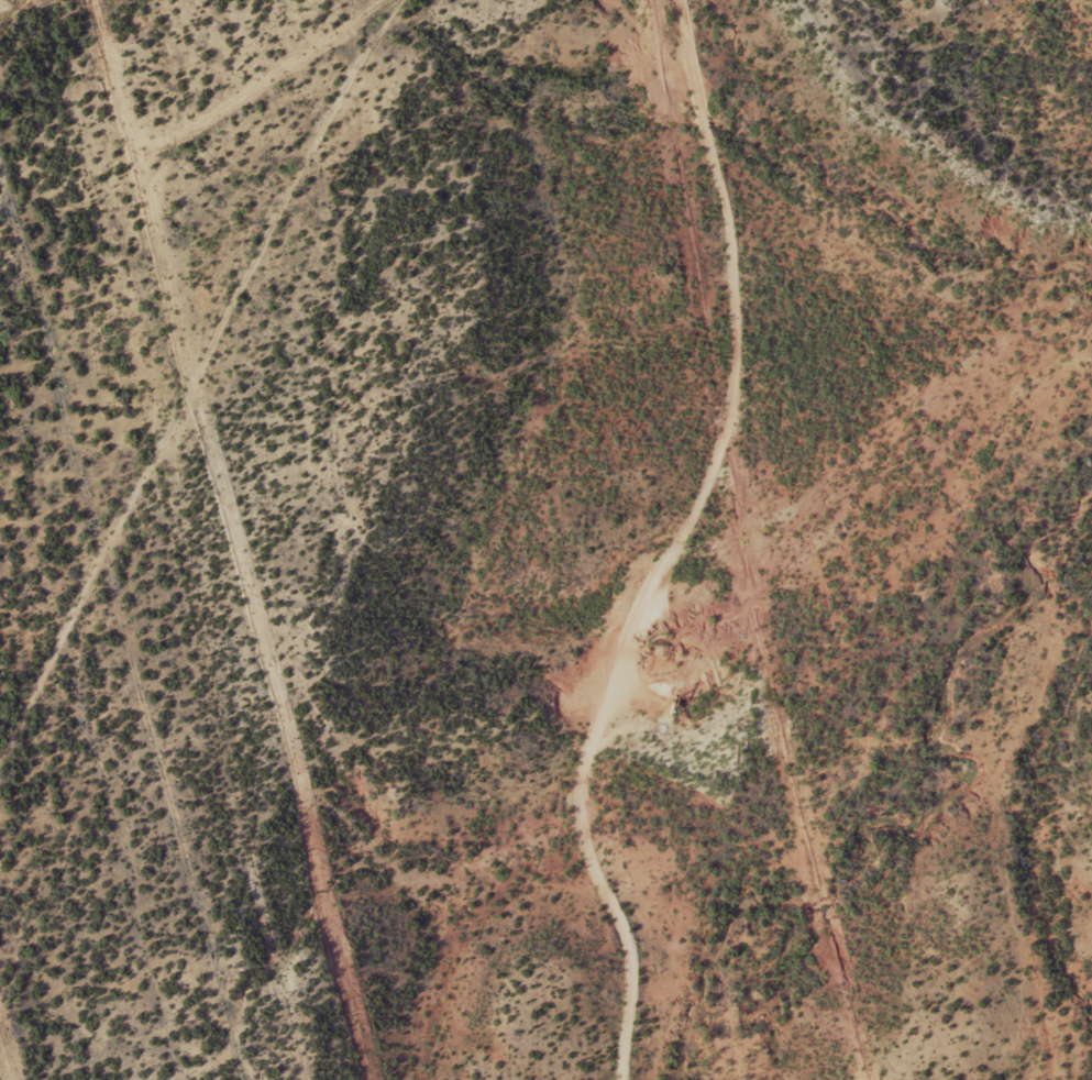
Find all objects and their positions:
road: (189, 364)
road: (639, 899)

